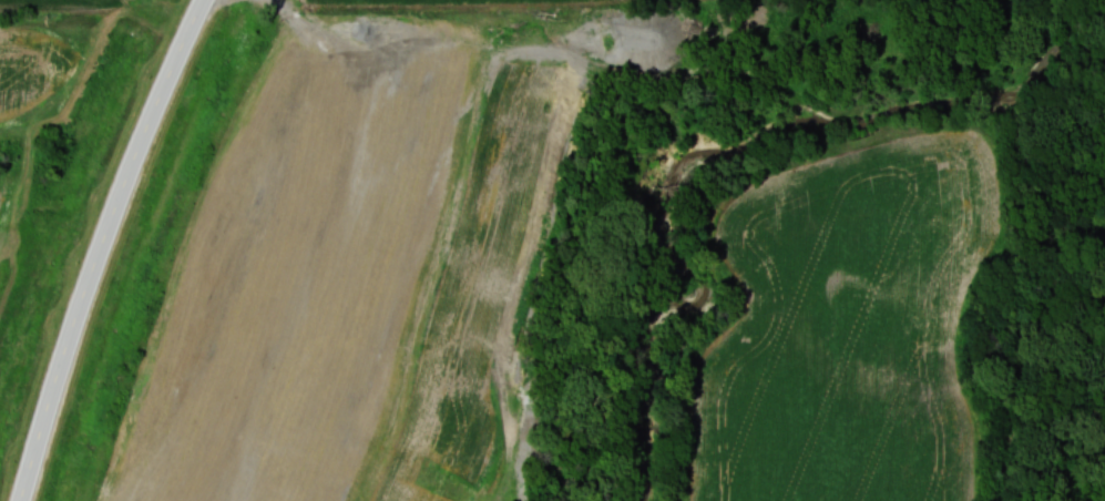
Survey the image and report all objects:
crop: (28, 59)
crop: (0, 198)
road: (103, 246)

